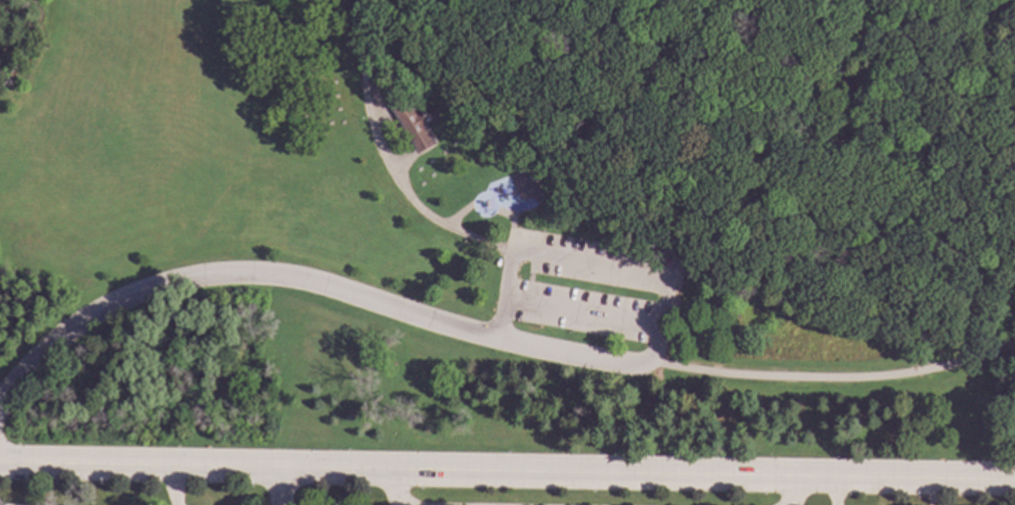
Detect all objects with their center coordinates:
road: (956, 34)
road: (462, 57)
road: (716, 97)
road: (382, 115)
building: (414, 122)
road: (387, 159)
road: (404, 162)
road: (958, 198)
road: (457, 215)
road: (508, 223)
park: (510, 226)
road: (592, 264)
road: (670, 268)
road: (307, 282)
parking lot: (591, 295)
road: (586, 309)
road: (832, 376)
road: (507, 469)
road: (280, 485)
road: (797, 490)
road: (835, 490)
road: (931, 491)
road: (394, 493)

